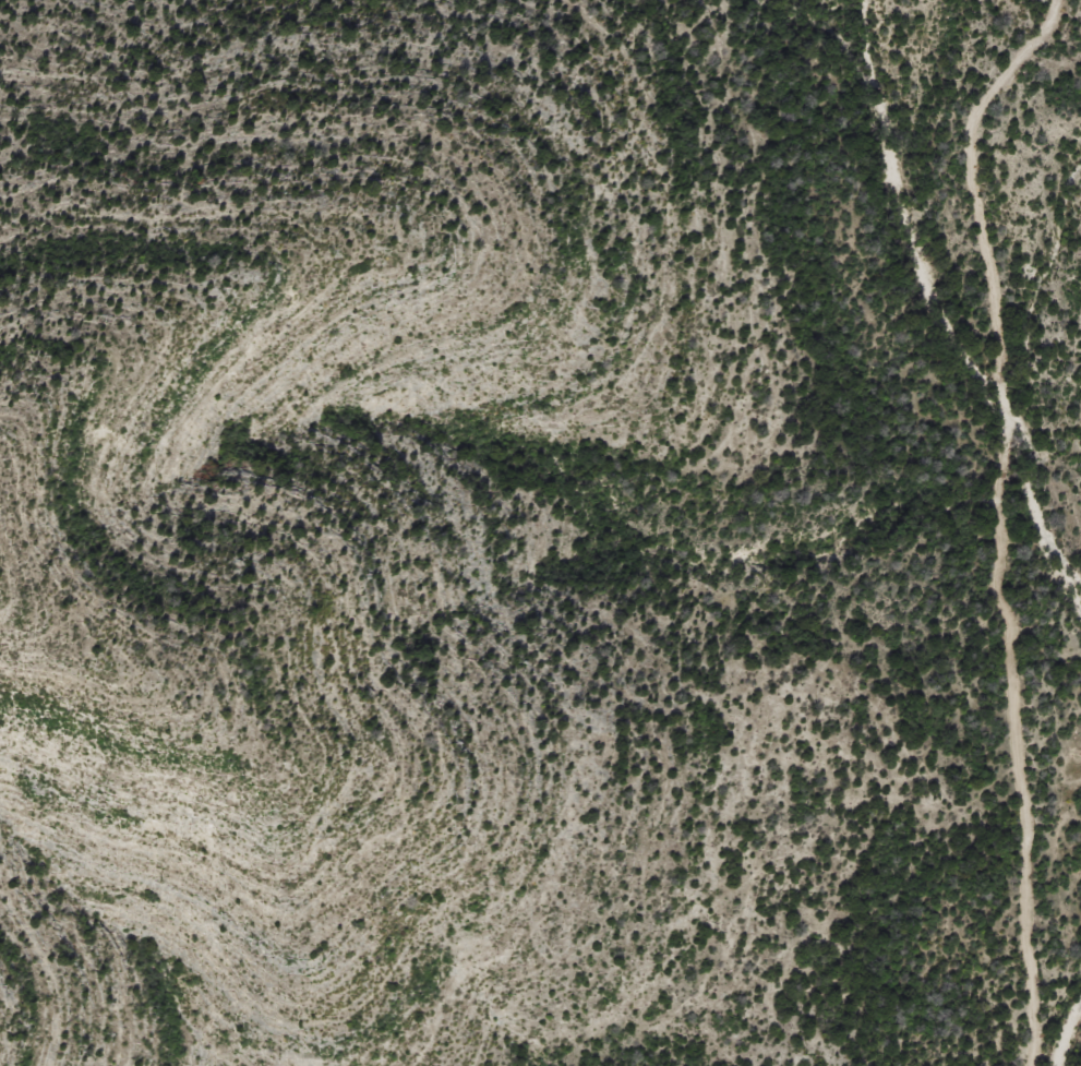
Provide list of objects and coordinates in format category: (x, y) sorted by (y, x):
road: (1000, 518)

